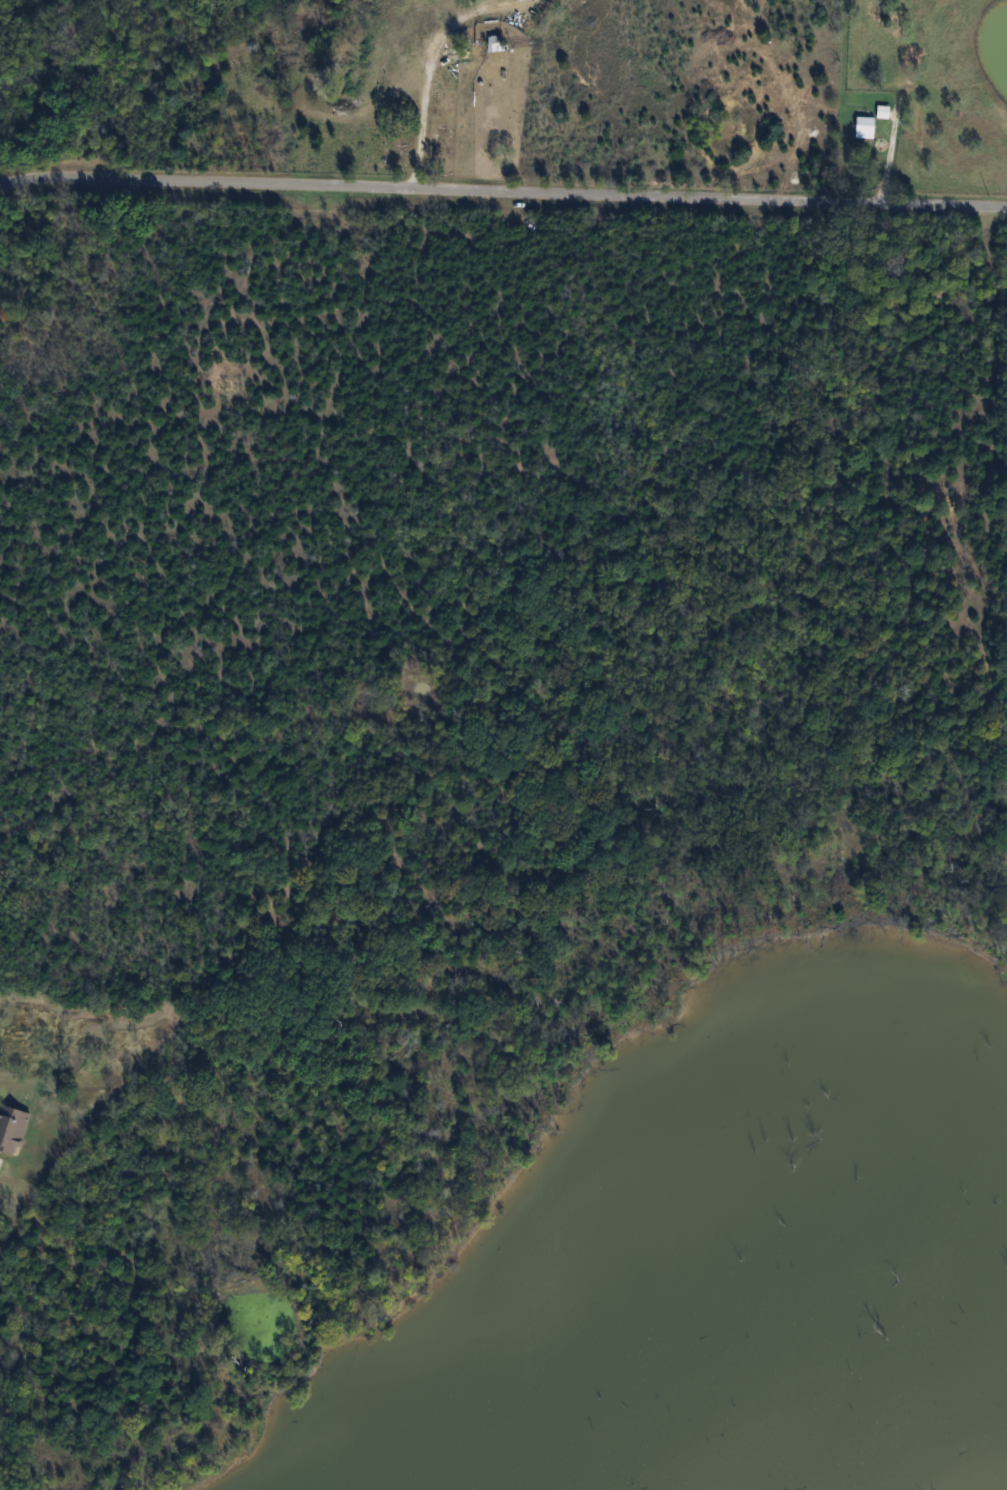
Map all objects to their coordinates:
road: (428, 90)
building: (866, 127)
road: (502, 190)
building: (13, 1128)

